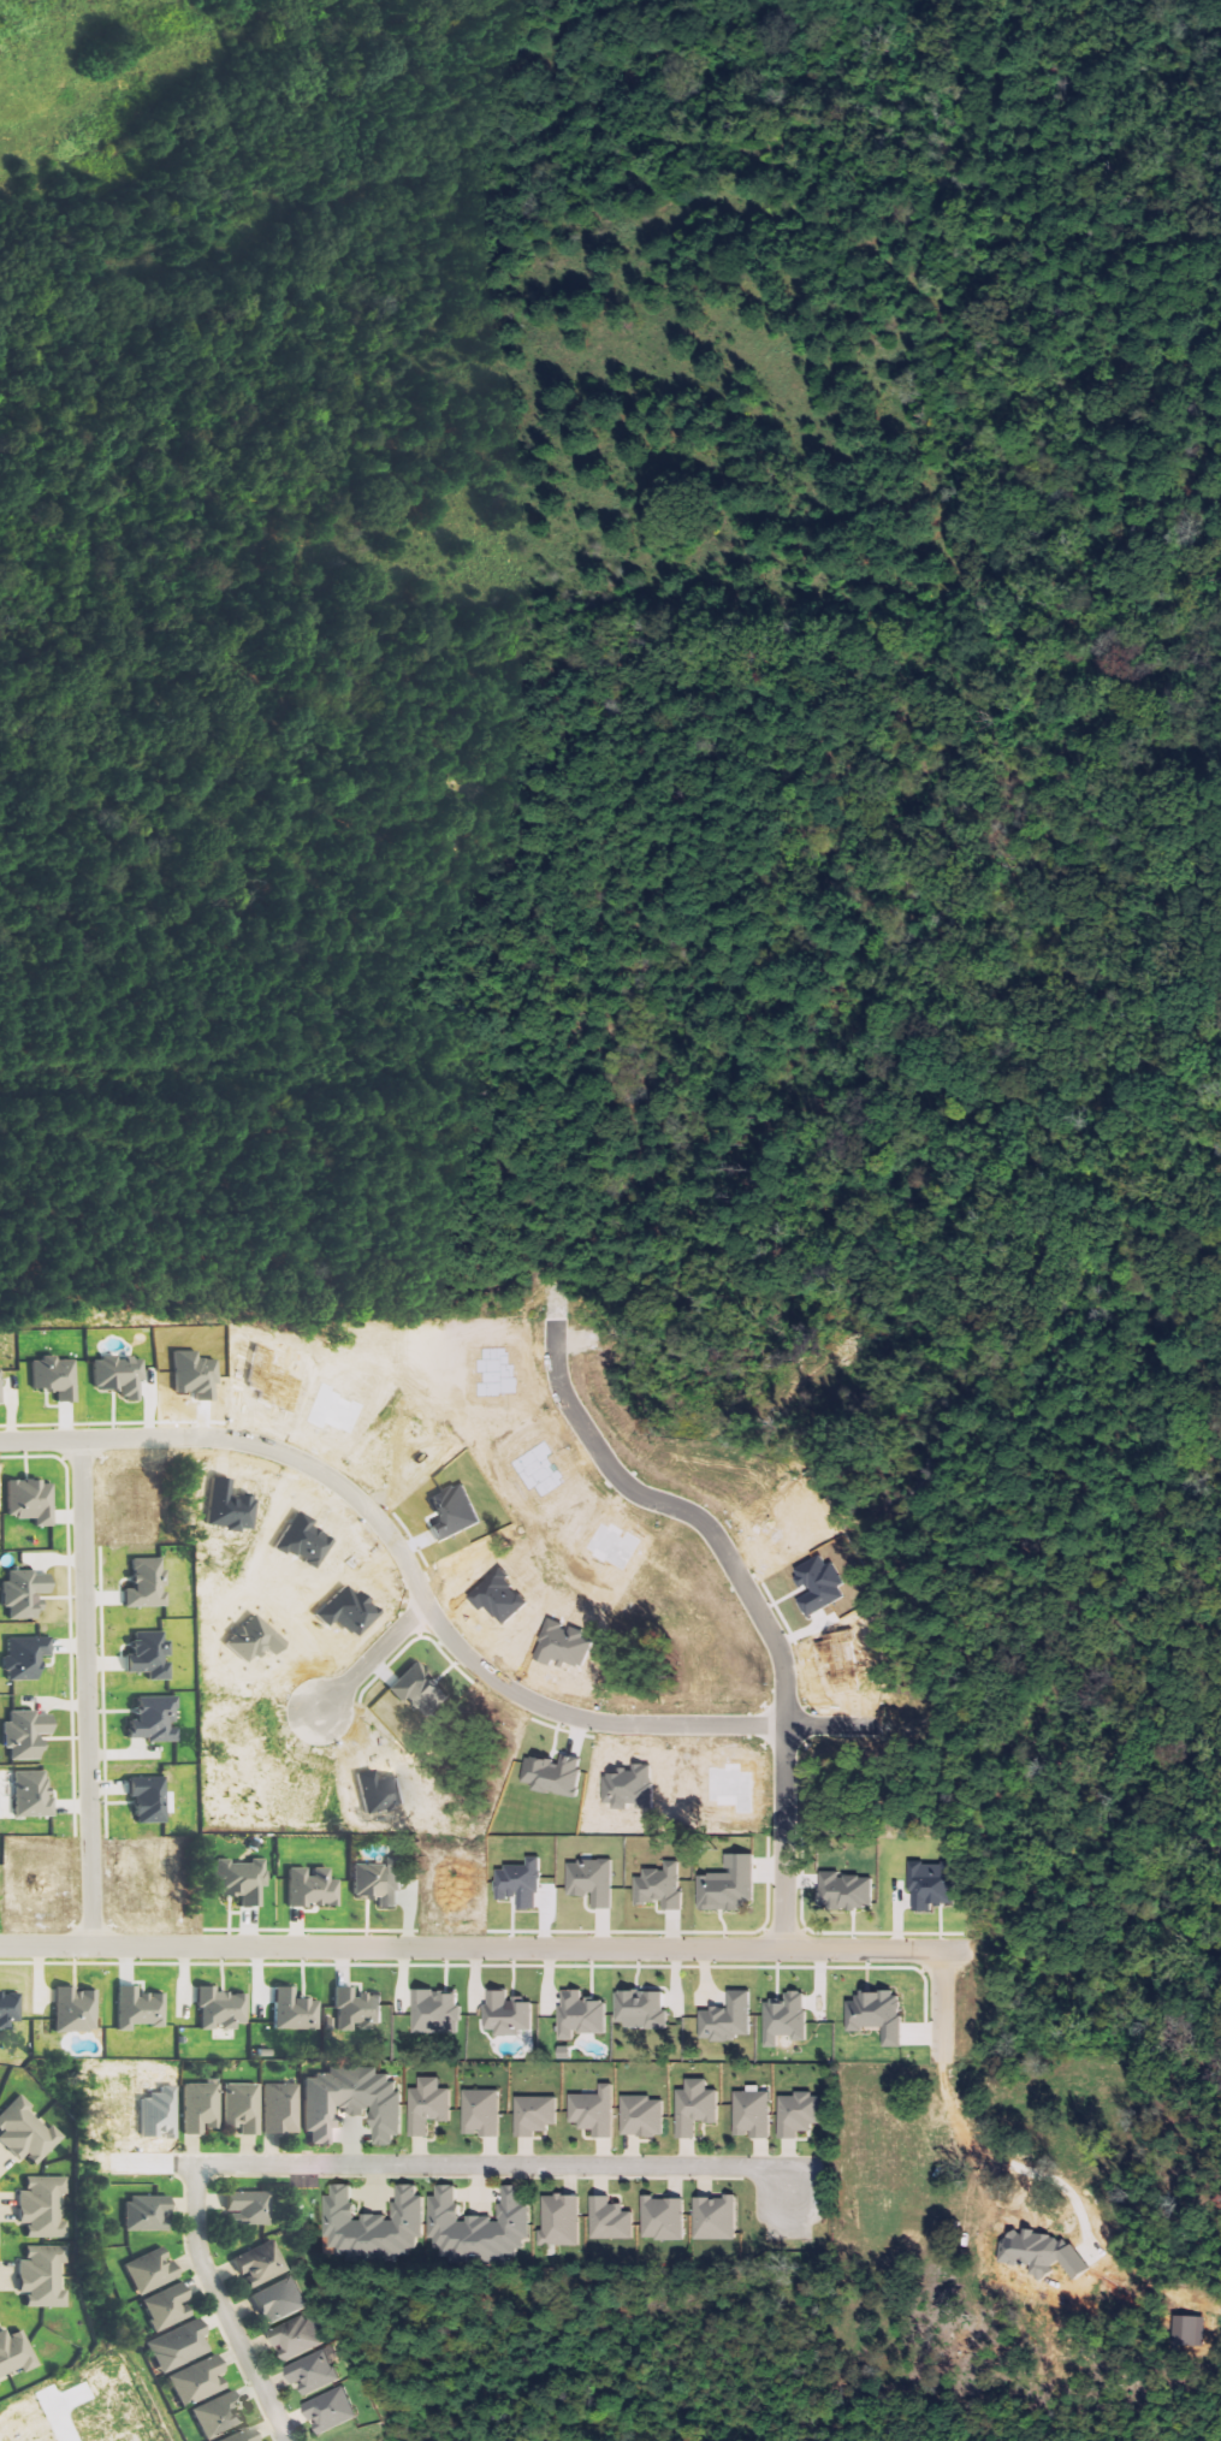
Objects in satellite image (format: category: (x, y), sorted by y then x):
building: (57, 1376)
building: (0, 1381)
building: (32, 1500)
building: (148, 1583)
building: (26, 1593)
road: (748, 1596)
road: (427, 1610)
building: (150, 1654)
building: (26, 1657)
road: (371, 1659)
road: (85, 1694)
building: (156, 1719)
building: (29, 1734)
building: (34, 1794)
building: (150, 1799)
building: (242, 1880)
building: (381, 1882)
building: (594, 1882)
building: (522, 1884)
building: (936, 1884)
building: (730, 1885)
building: (314, 1888)
building: (662, 1888)
building: (849, 1891)
road: (497, 1949)
road: (943, 1998)
building: (358, 2008)
building: (10, 2009)
building: (141, 2009)
building: (223, 2009)
building: (644, 2009)
building: (76, 2010)
building: (296, 2010)
building: (438, 2012)
building: (511, 2014)
building: (585, 2015)
building: (731, 2019)
building: (789, 2019)
building: (354, 2102)
building: (431, 2105)
building: (202, 2108)
building: (243, 2108)
building: (699, 2108)
building: (281, 2109)
building: (598, 2111)
building: (484, 2113)
building: (755, 2113)
building: (802, 2114)
building: (538, 2115)
building: (645, 2116)
building: (28, 2132)
road: (500, 2167)
building: (43, 2208)
building: (249, 2209)
building: (149, 2214)
building: (666, 2218)
building: (718, 2218)
building: (563, 2220)
building: (612, 2220)
building: (379, 2224)
building: (482, 2226)
building: (262, 2264)
building: (153, 2271)
building: (42, 2274)
building: (281, 2300)
building: (170, 2307)
road: (221, 2307)
building: (1193, 2332)
building: (297, 2336)
building: (180, 2346)
building: (16, 2353)
building: (315, 2372)
building: (200, 2381)
building: (0, 2384)
building: (333, 2411)
building: (220, 2416)
building: (244, 2435)

